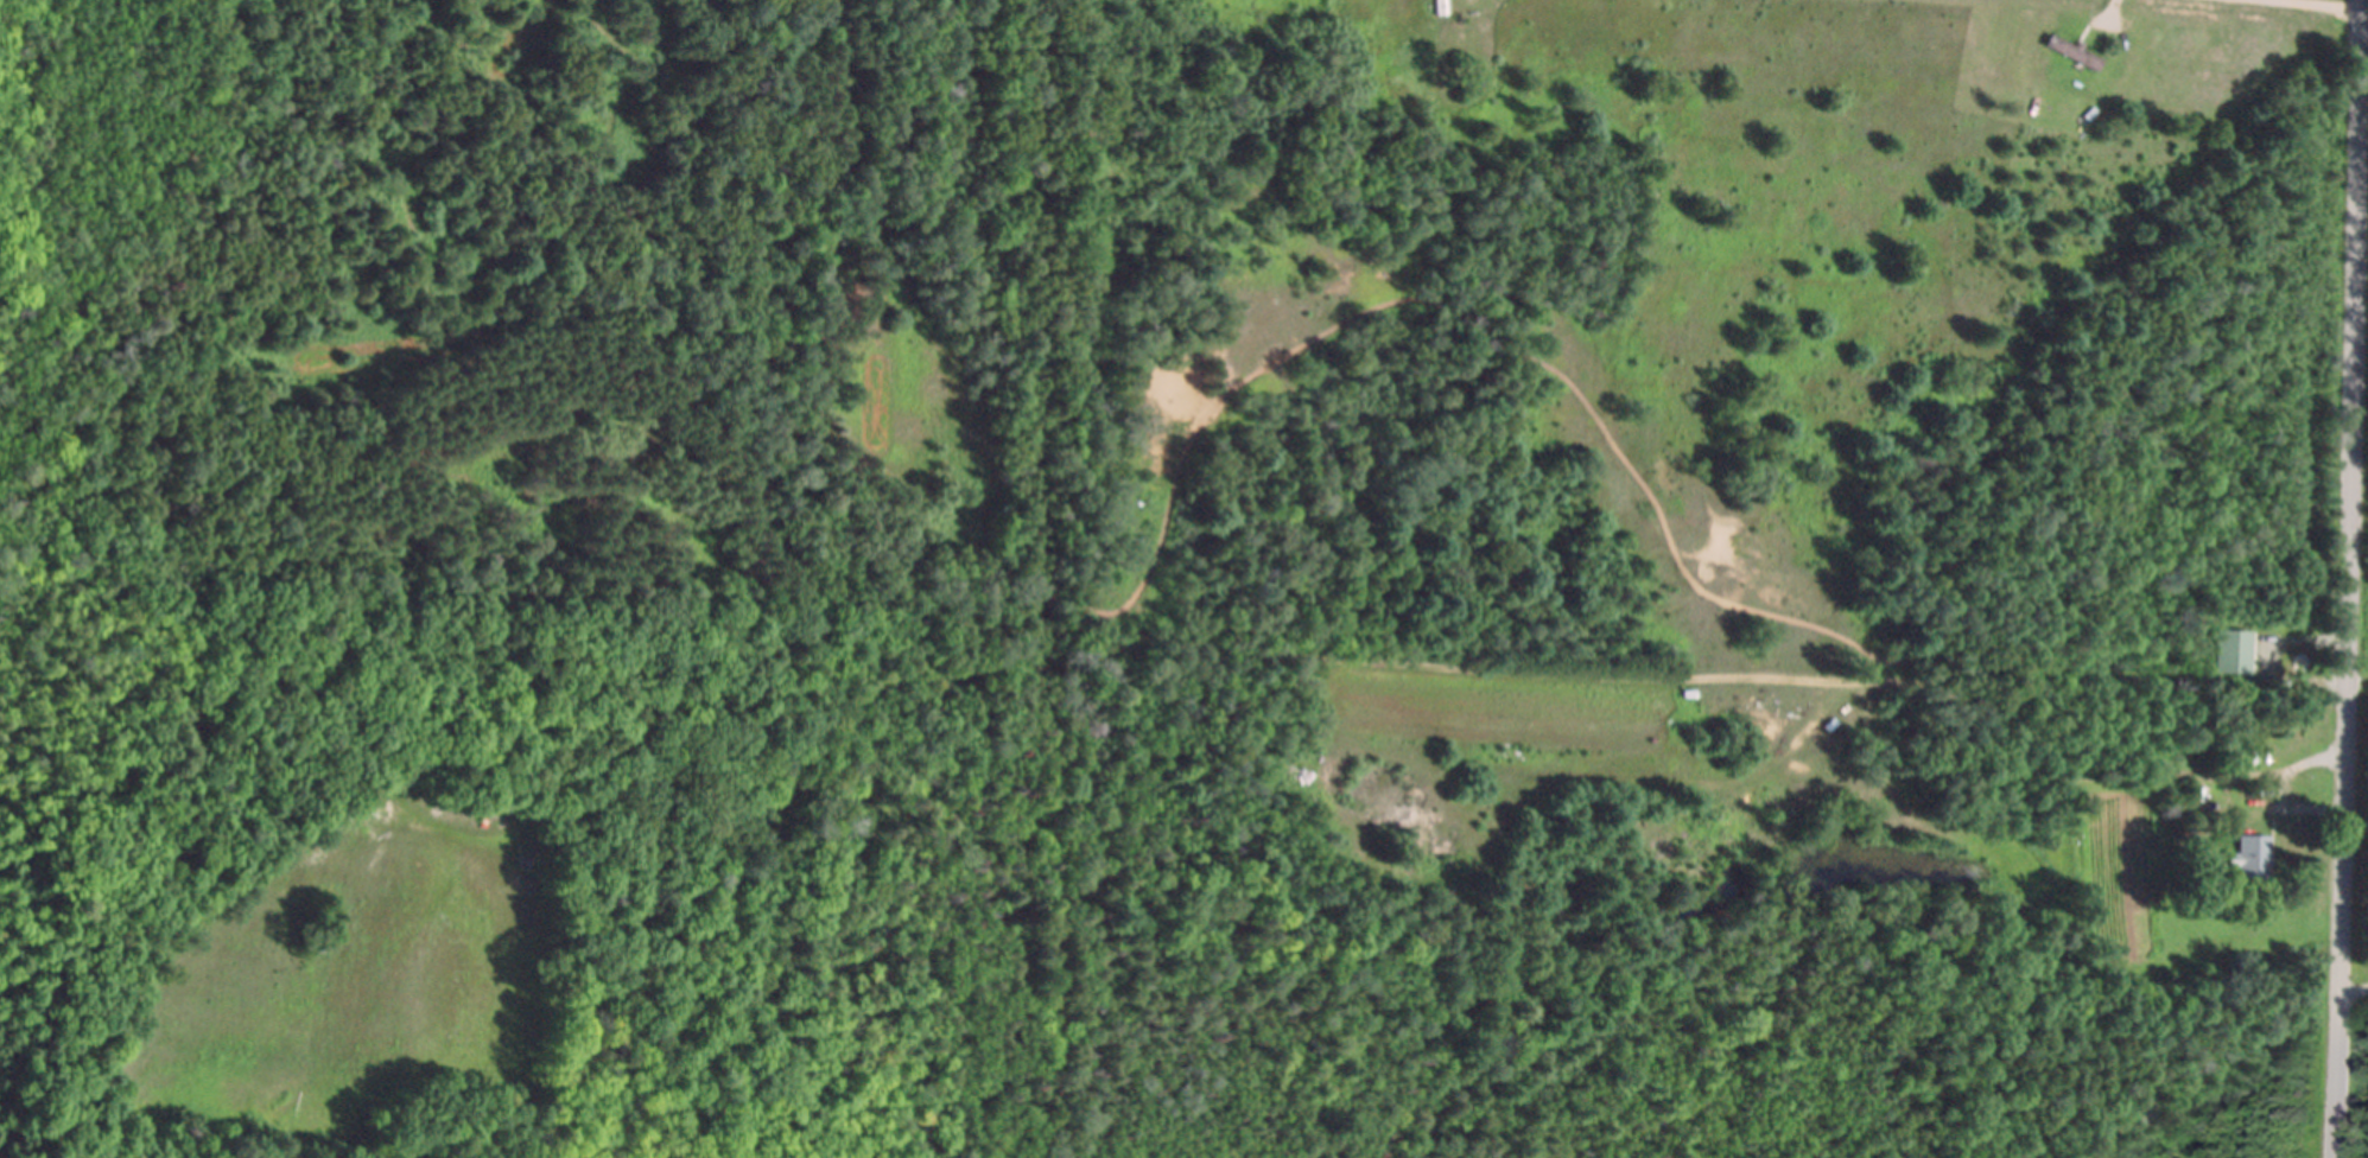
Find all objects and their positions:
road: (2313, 6)
building: (2070, 52)
road: (2348, 578)
building: (2231, 653)
road: (1709, 677)
road: (2316, 761)
building: (2247, 858)
road: (2354, 992)

